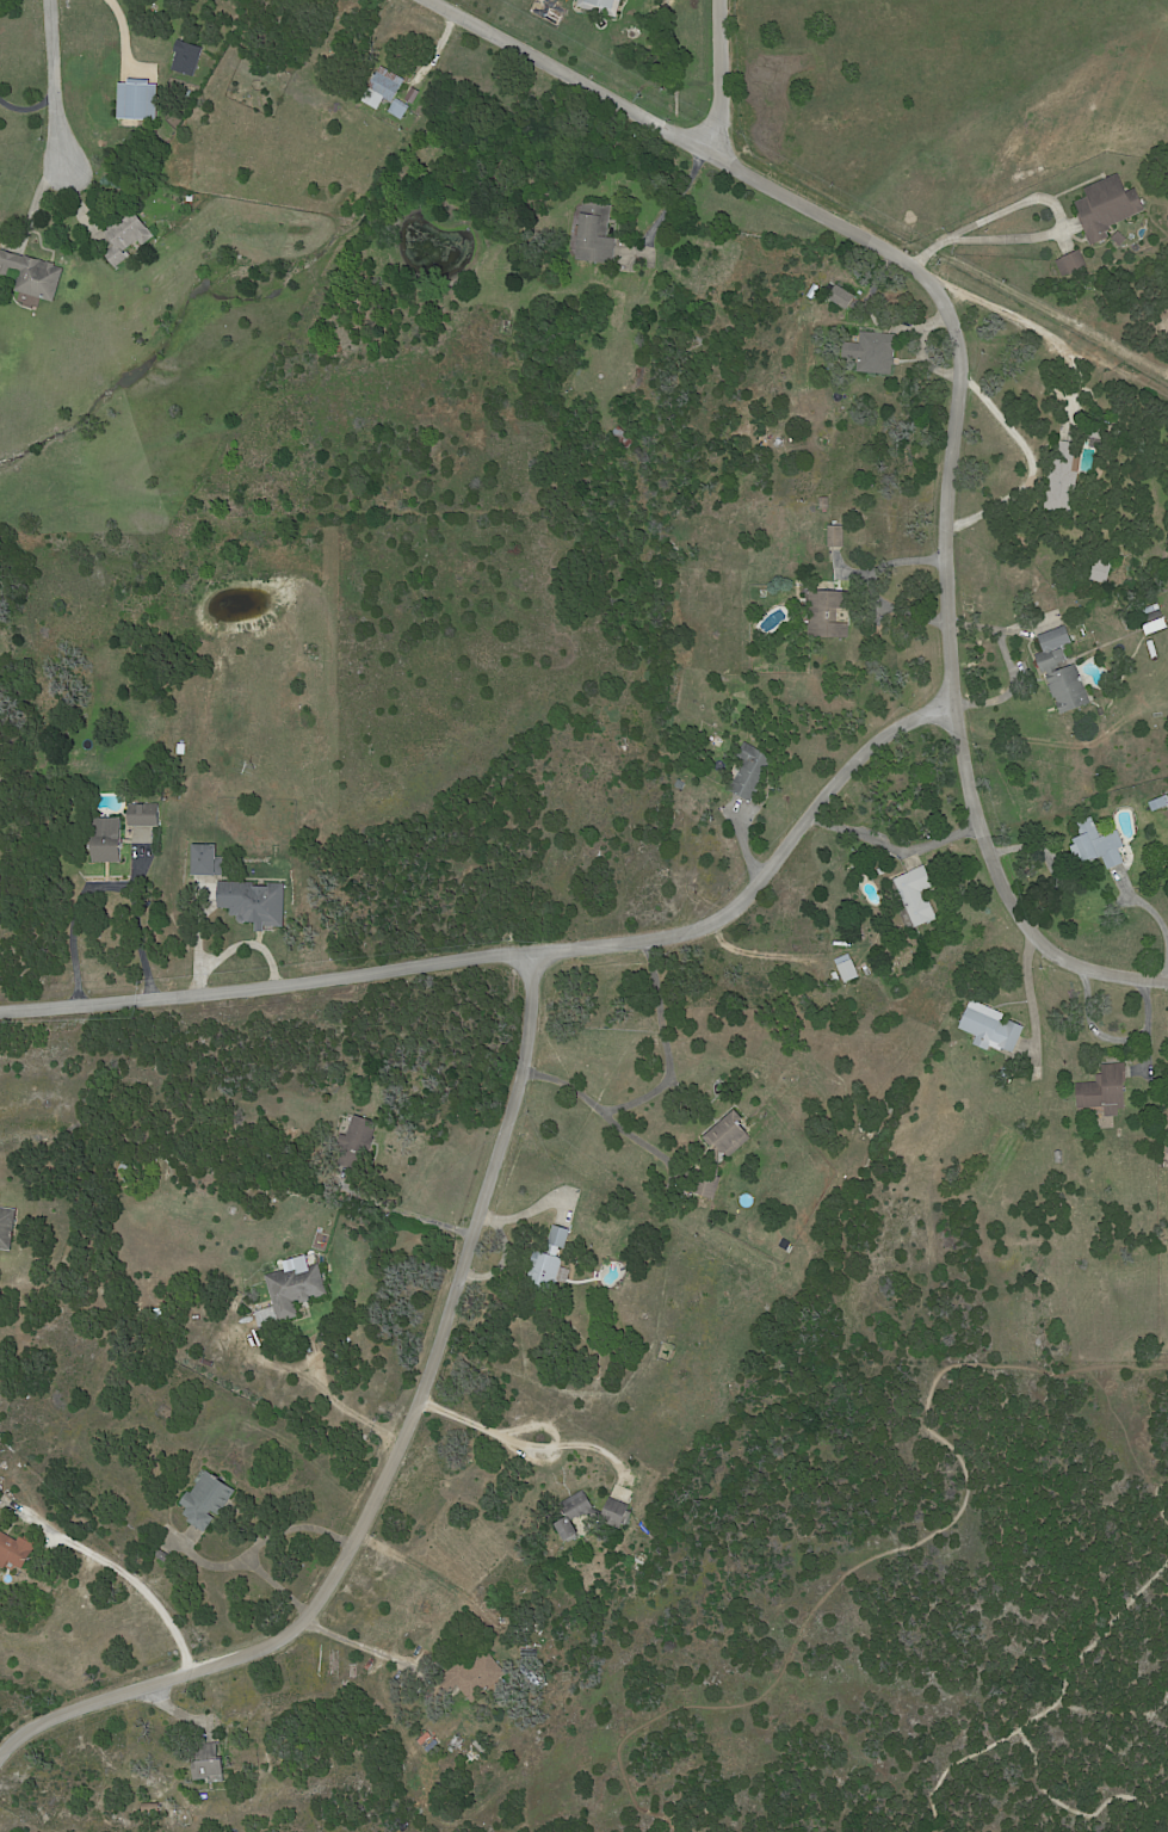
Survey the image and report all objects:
building: (601, 6)
building: (186, 58)
building: (271, 70)
road: (717, 76)
building: (383, 88)
road: (57, 93)
power tower: (638, 94)
building: (138, 99)
road: (27, 107)
building: (398, 109)
road: (1045, 198)
building: (191, 202)
road: (678, 202)
building: (1108, 208)
building: (595, 235)
building: (125, 236)
building: (1120, 239)
power tower: (940, 263)
building: (1073, 264)
building: (32, 276)
building: (842, 297)
building: (869, 303)
building: (1167, 331)
building: (1167, 341)
building: (873, 352)
road: (960, 400)
building: (1098, 432)
building: (623, 438)
building: (1064, 479)
building: (824, 502)
building: (836, 536)
building: (1099, 573)
road: (872, 584)
building: (784, 597)
building: (828, 612)
building: (1152, 617)
building: (1081, 662)
building: (1062, 672)
building: (181, 748)
building: (750, 771)
building: (1160, 803)
building: (143, 815)
building: (107, 840)
building: (1098, 845)
building: (308, 857)
building: (206, 861)
building: (883, 871)
road: (103, 884)
building: (917, 895)
building: (254, 902)
road: (1157, 918)
road: (523, 948)
building: (849, 971)
road: (1028, 995)
building: (991, 1028)
road: (665, 1042)
building: (1106, 1091)
road: (594, 1103)
building: (357, 1142)
building: (716, 1155)
building: (1059, 1156)
building: (124, 1168)
building: (6, 1228)
building: (550, 1257)
building: (291, 1290)
building: (631, 1316)
road: (334, 1395)
road: (481, 1423)
road: (395, 1451)
building: (206, 1499)
building: (591, 1512)
road: (259, 1538)
building: (644, 1540)
road: (891, 1547)
building: (16, 1549)
building: (162, 1555)
road: (206, 1562)
road: (136, 1584)
park: (890, 1608)
road: (1107, 1611)
road: (351, 1641)
building: (474, 1677)
road: (1031, 1754)
building: (471, 1756)
building: (208, 1763)
building: (150, 1807)

